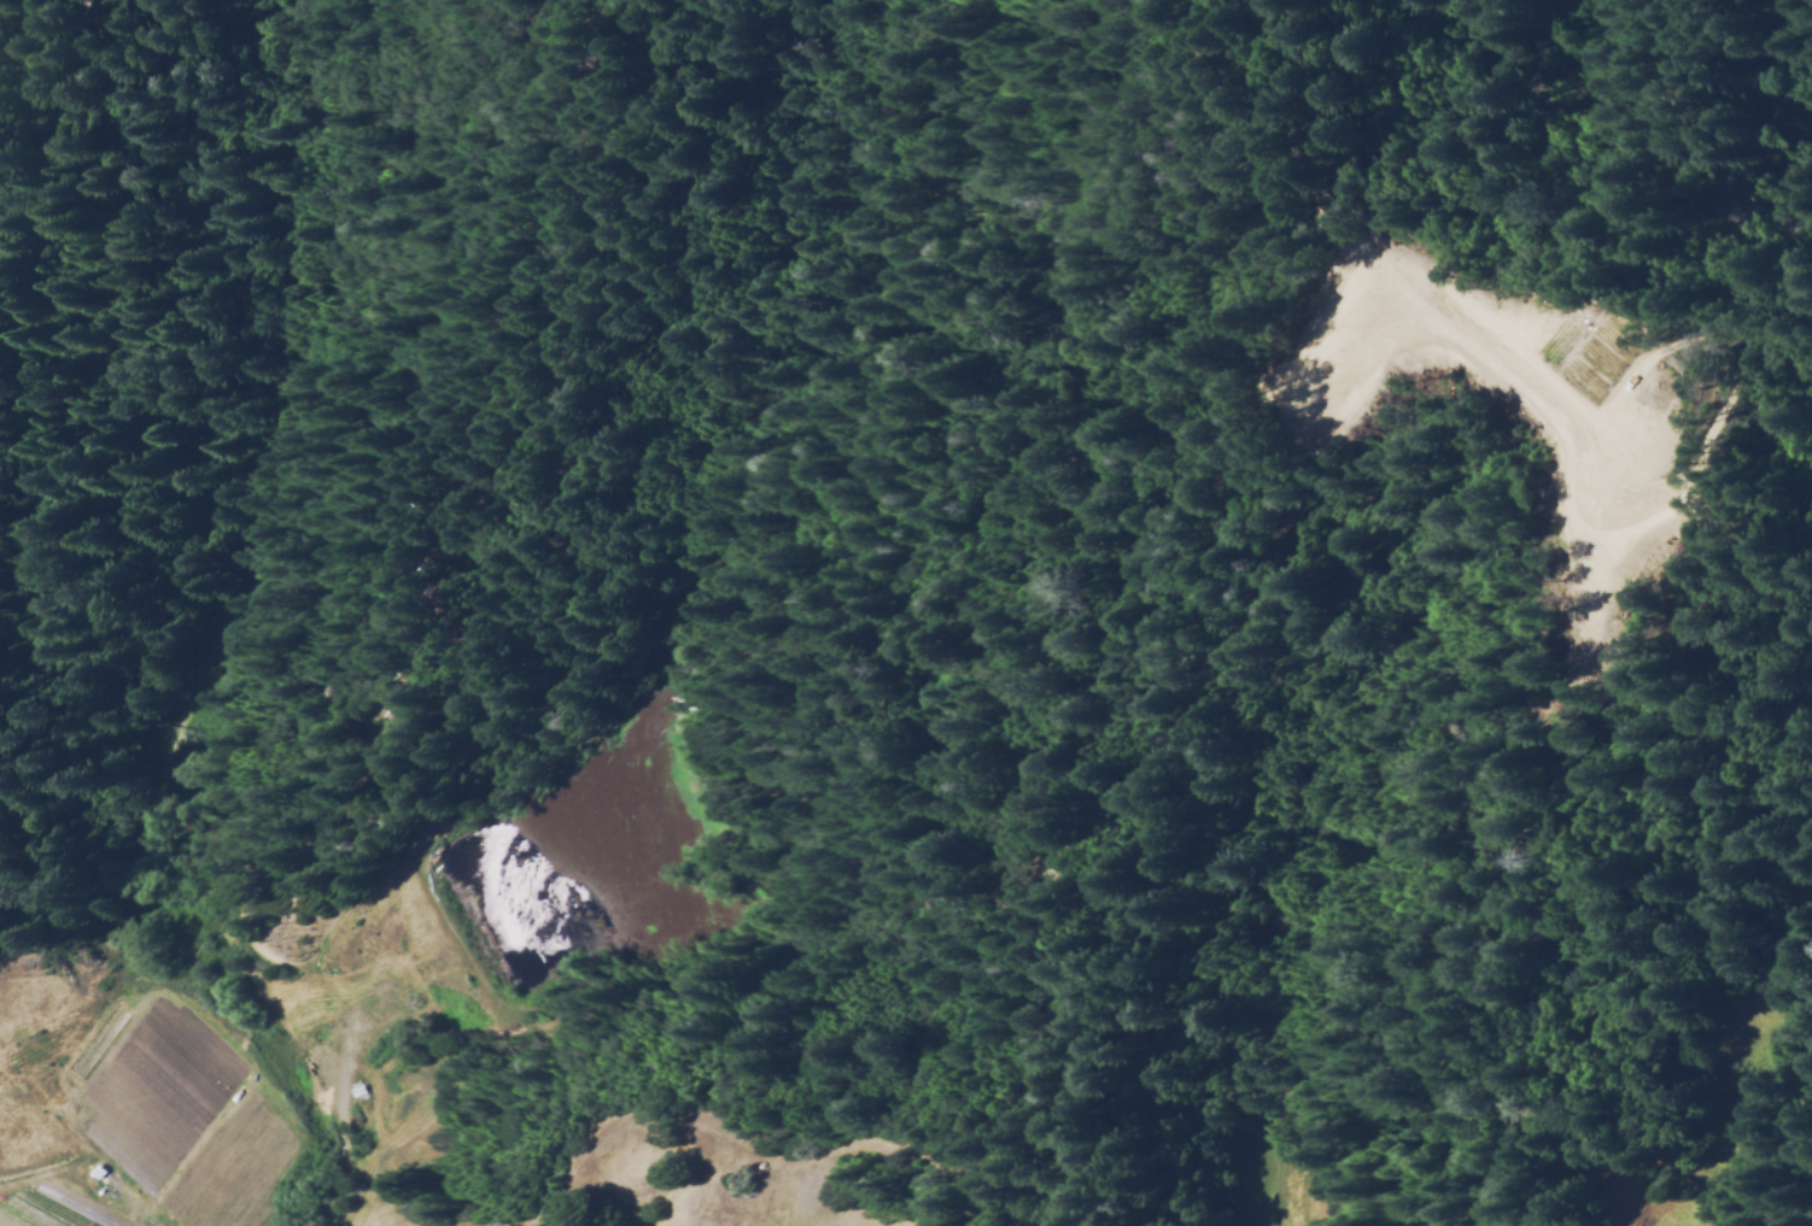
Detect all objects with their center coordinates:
road: (361, 1169)

